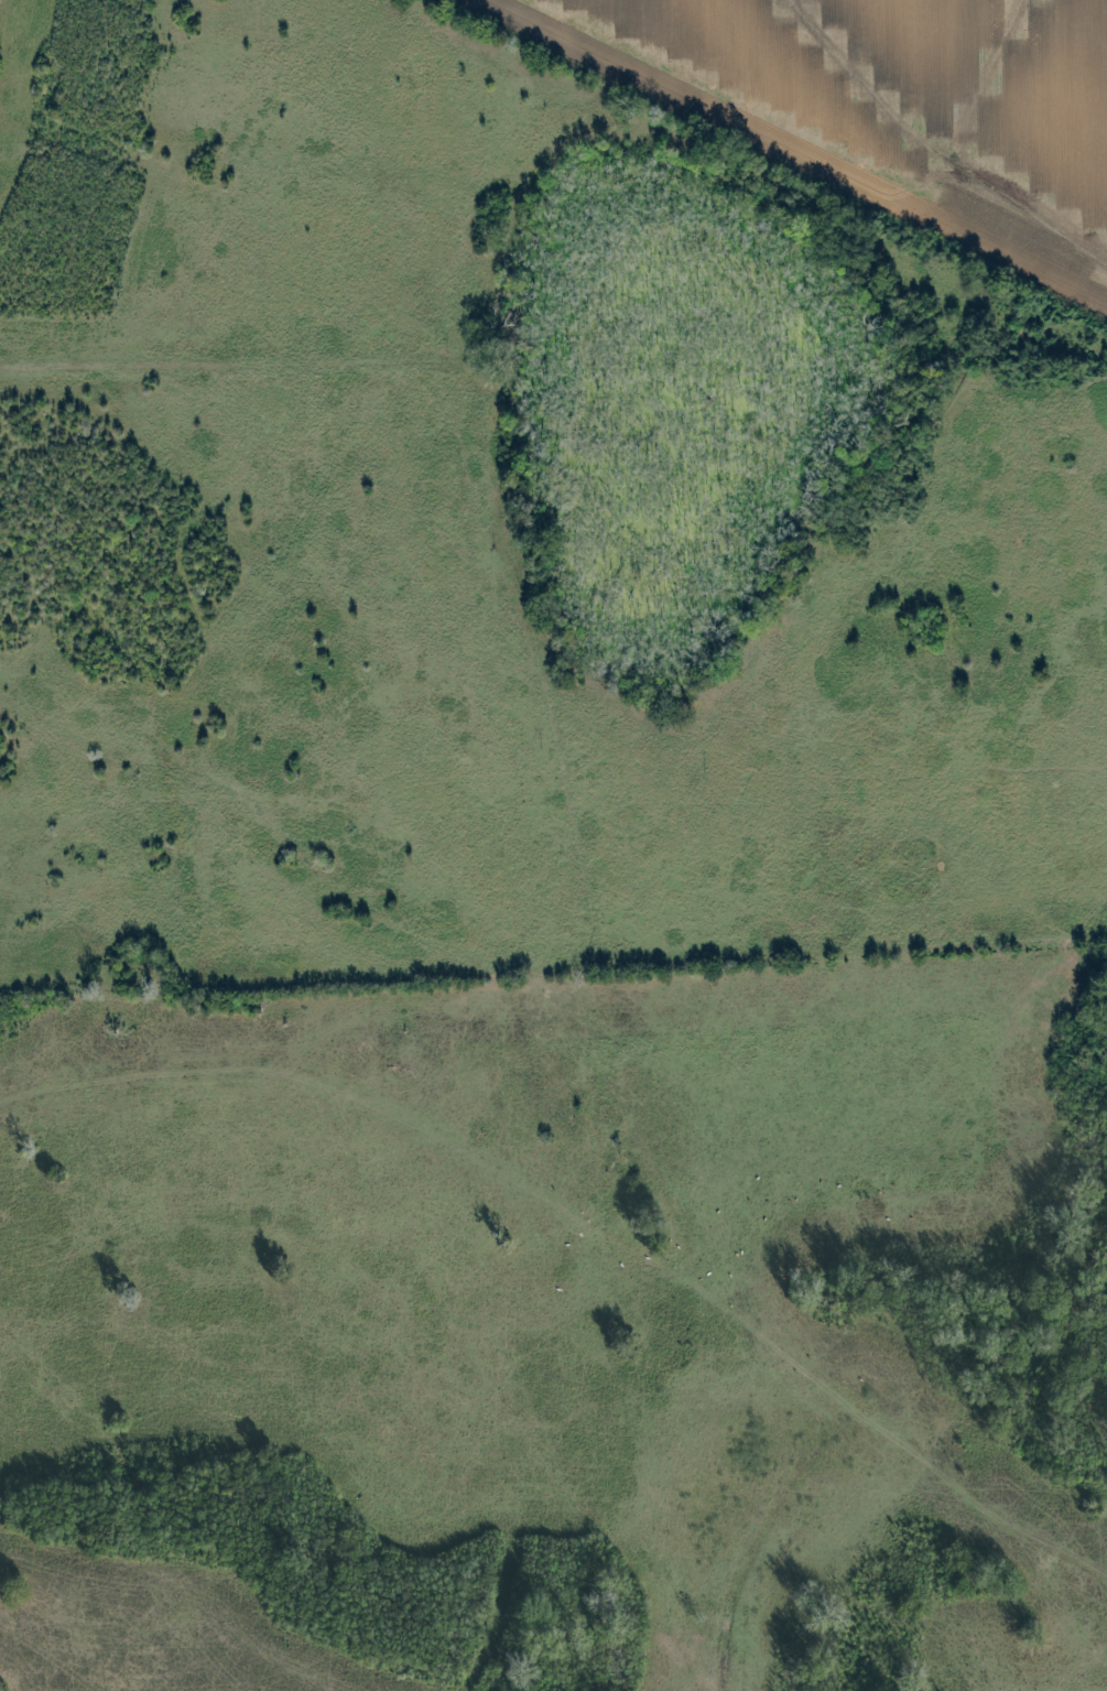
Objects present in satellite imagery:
road: (532, 177)

